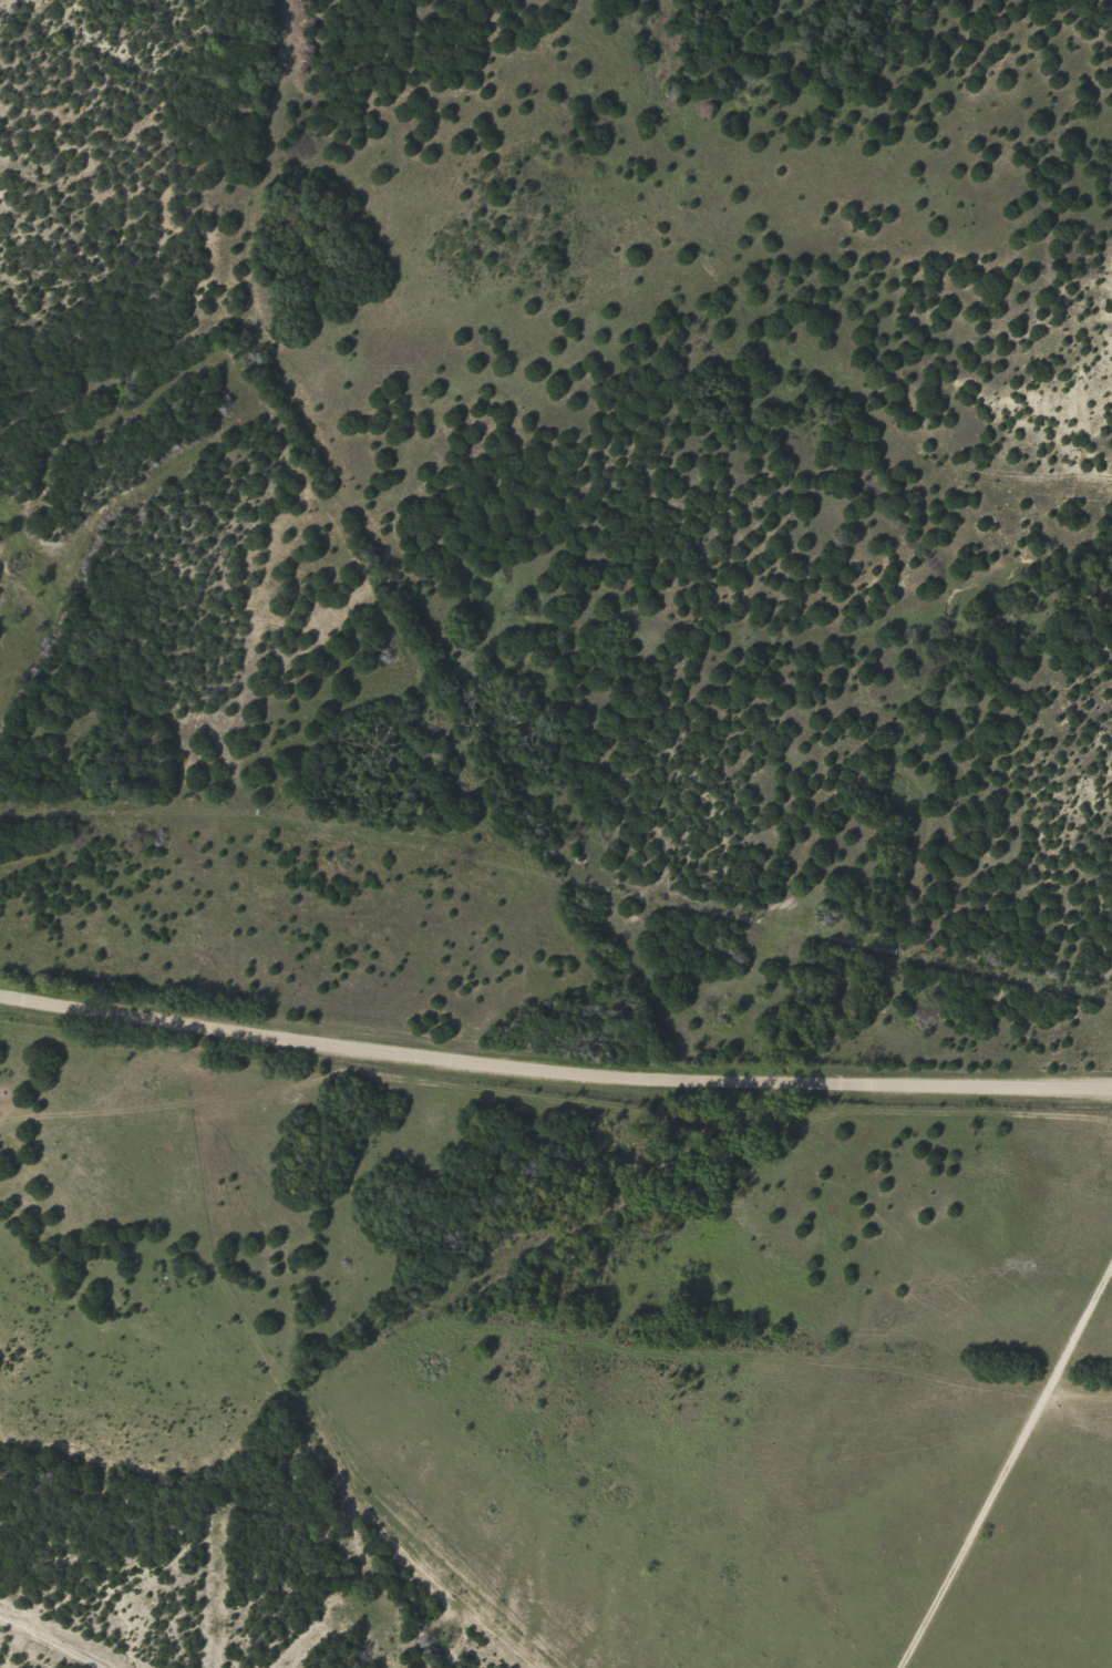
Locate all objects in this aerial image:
road: (787, 316)
road: (553, 1074)
road: (1009, 1466)

